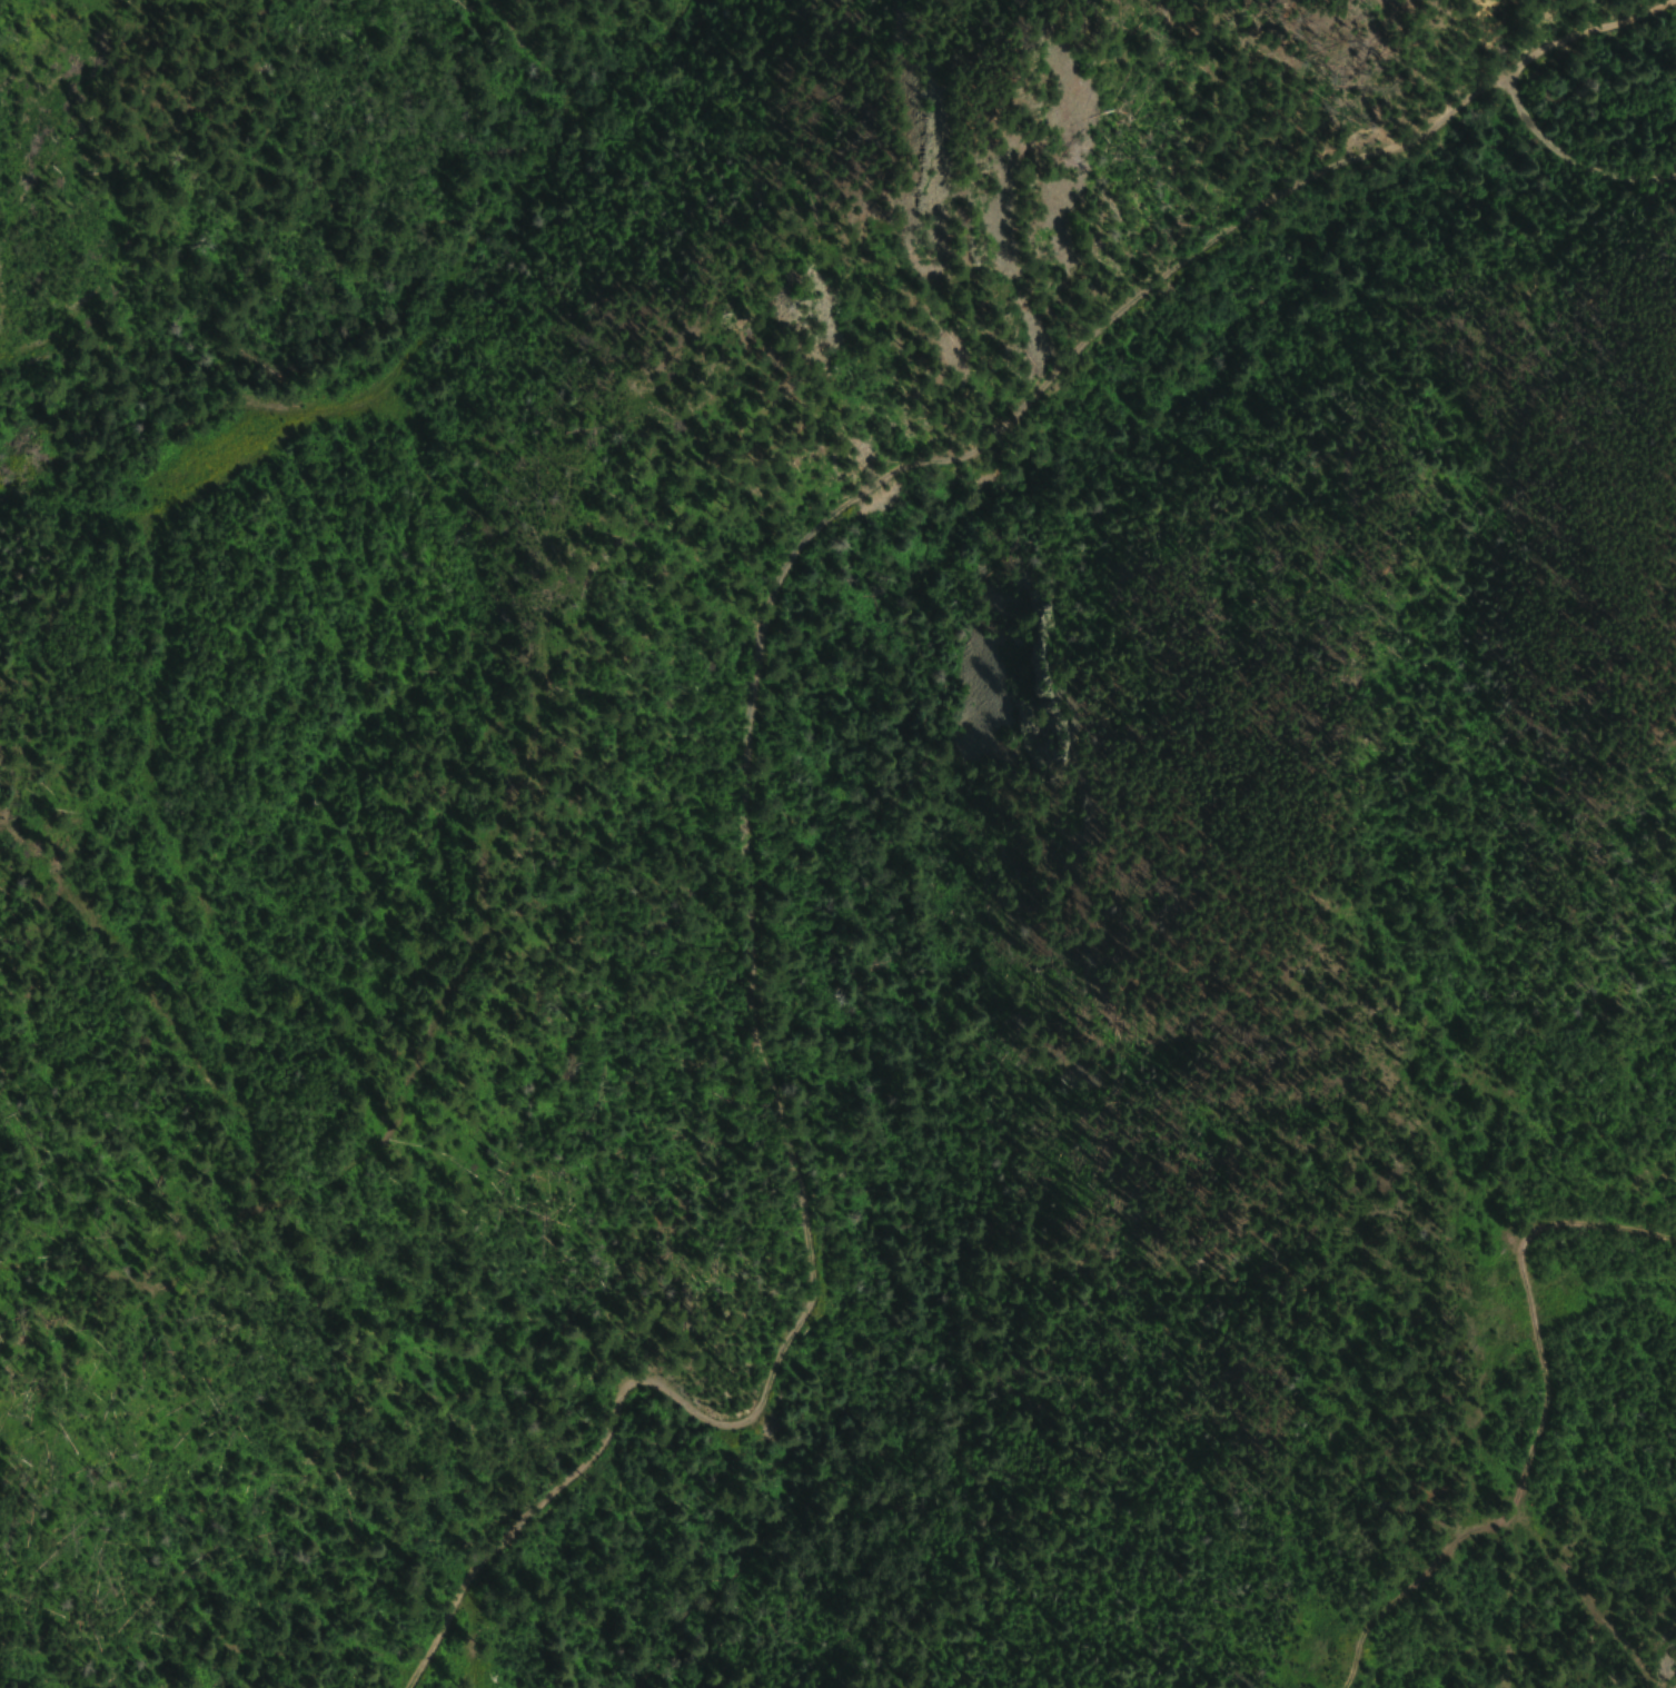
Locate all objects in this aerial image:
road: (1607, 26)
road: (1570, 159)
road: (708, 743)

